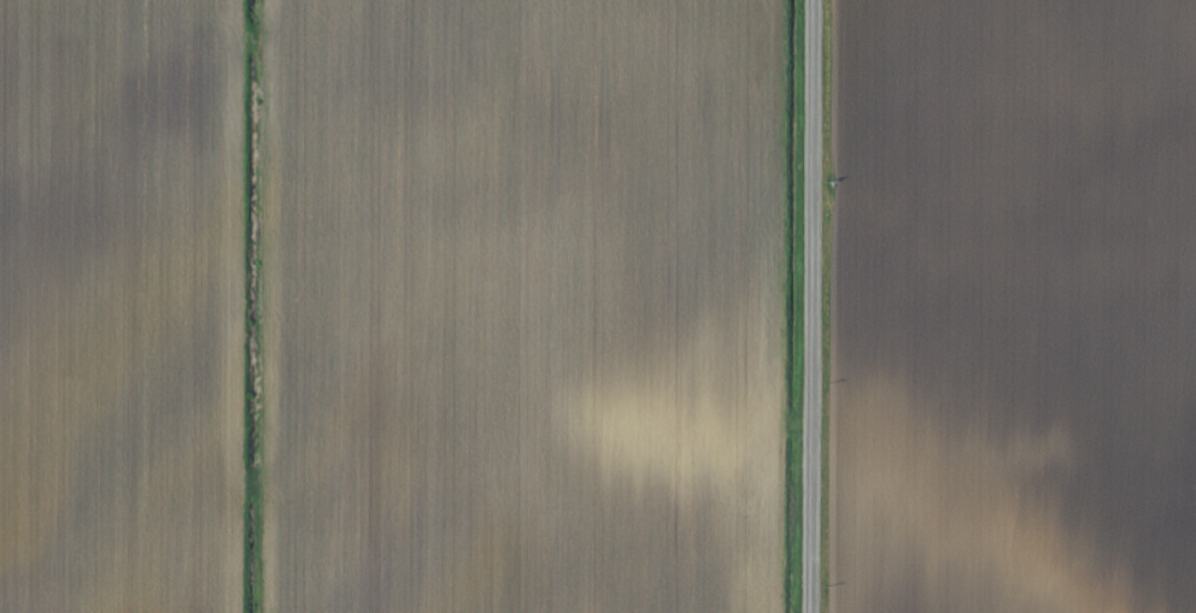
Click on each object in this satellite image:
road: (810, 306)

